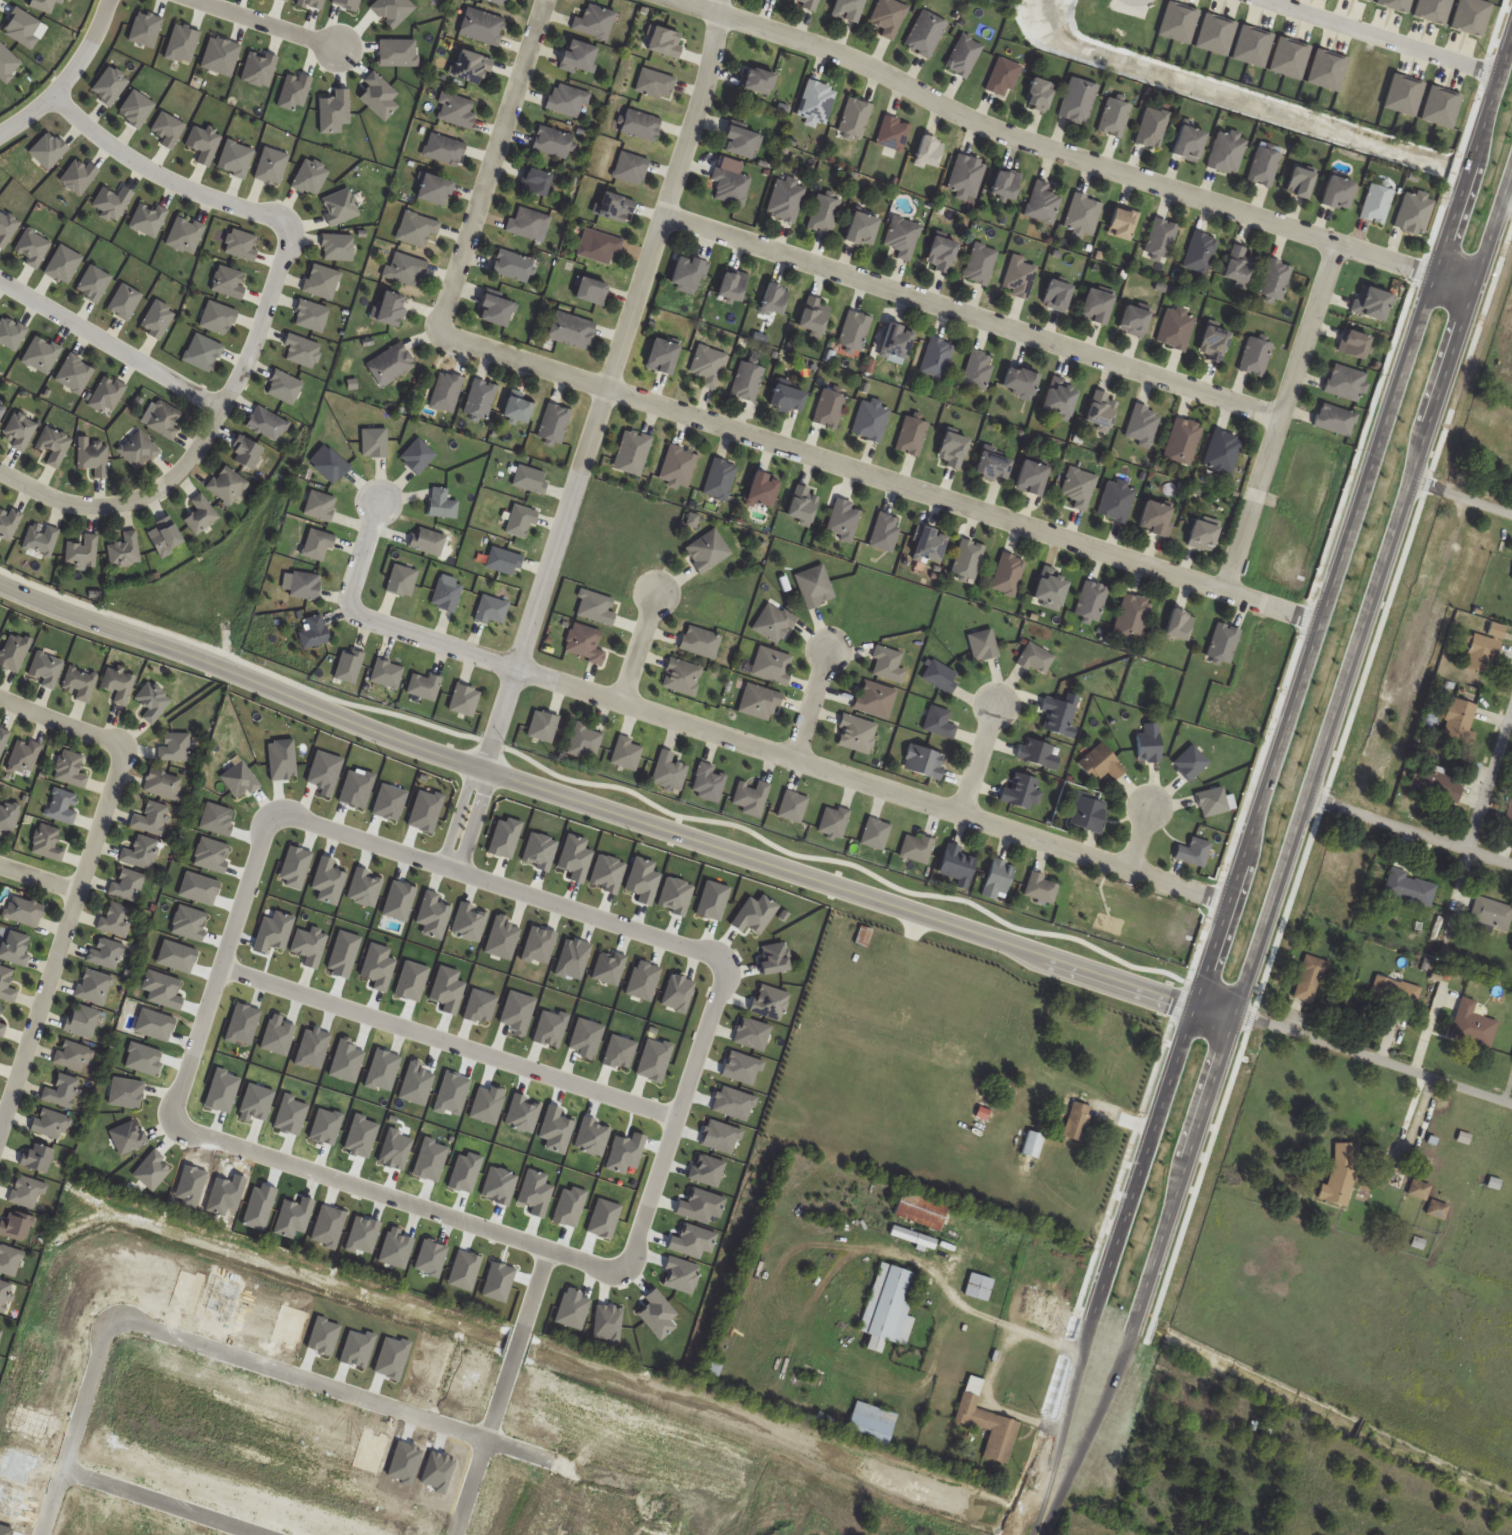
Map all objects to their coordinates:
building: (496, 1)
building: (806, 3)
building: (846, 9)
building: (889, 17)
building: (595, 22)
road: (265, 24)
building: (482, 26)
building: (926, 33)
road: (1379, 36)
building: (664, 42)
building: (577, 56)
building: (963, 56)
building: (470, 66)
building: (1003, 78)
road: (68, 79)
building: (758, 81)
building: (656, 84)
building: (1037, 94)
building: (568, 100)
building: (1078, 101)
building: (817, 103)
building: (456, 111)
building: (1114, 117)
building: (856, 118)
building: (641, 125)
building: (1151, 127)
building: (894, 133)
building: (553, 142)
building: (739, 142)
building: (1187, 143)
road: (1051, 148)
building: (444, 150)
building: (928, 152)
building: (1227, 153)
road: (492, 165)
building: (1263, 167)
building: (631, 168)
building: (967, 176)
building: (535, 182)
building: (1005, 183)
building: (1298, 183)
building: (731, 186)
building: (433, 190)
building: (1335, 193)
building: (786, 200)
building: (1042, 203)
building: (1376, 204)
building: (615, 207)
building: (1414, 213)
building: (824, 214)
building: (1083, 215)
building: (1121, 224)
building: (530, 225)
building: (417, 229)
building: (861, 229)
building: (903, 238)
building: (1161, 239)
building: (601, 247)
building: (1200, 253)
building: (941, 254)
building: (981, 264)
building: (513, 266)
building: (1237, 266)
building: (406, 270)
building: (687, 274)
building: (1019, 276)
building: (1275, 280)
road: (1454, 280)
building: (731, 285)
building: (591, 291)
building: (1055, 295)
building: (774, 299)
building: (1370, 303)
building: (1094, 306)
building: (389, 308)
building: (494, 310)
building: (813, 315)
road: (974, 315)
road: (263, 319)
building: (1132, 321)
building: (1176, 329)
building: (573, 330)
building: (855, 330)
road: (111, 339)
building: (894, 342)
building: (1212, 344)
building: (1353, 344)
building: (661, 356)
building: (1256, 357)
building: (936, 358)
building: (391, 364)
building: (709, 365)
building: (978, 370)
building: (748, 381)
building: (1346, 382)
building: (1018, 383)
road: (609, 387)
building: (447, 392)
building: (1059, 398)
building: (481, 399)
building: (786, 399)
building: (830, 409)
building: (517, 410)
building: (1101, 411)
building: (2, 413)
road: (1283, 417)
building: (1510, 418)
building: (165, 420)
building: (872, 420)
building: (1335, 420)
building: (556, 423)
building: (266, 424)
building: (1142, 425)
building: (20, 431)
building: (912, 436)
building: (1474, 436)
building: (1183, 441)
building: (54, 447)
building: (951, 449)
building: (139, 450)
building: (1223, 451)
building: (633, 452)
building: (245, 453)
building: (94, 457)
building: (679, 466)
building: (990, 466)
road: (876, 476)
building: (721, 479)
building: (1032, 479)
building: (227, 485)
building: (1079, 488)
building: (761, 490)
road: (1462, 499)
building: (1117, 501)
building: (442, 504)
building: (802, 505)
building: (321, 506)
building: (200, 515)
road: (1350, 516)
building: (1154, 518)
building: (843, 520)
building: (9, 523)
building: (886, 532)
building: (1201, 536)
building: (163, 538)
building: (41, 539)
building: (1436, 541)
building: (428, 542)
building: (318, 544)
building: (928, 545)
building: (125, 550)
building: (708, 550)
building: (83, 552)
road: (364, 554)
building: (968, 559)
building: (1008, 574)
building: (305, 586)
building: (815, 586)
building: (1433, 587)
building: (1050, 590)
road: (1375, 595)
building: (1092, 602)
building: (1132, 617)
building: (774, 623)
building: (1179, 625)
building: (701, 642)
building: (585, 644)
building: (1223, 644)
building: (984, 645)
road: (641, 648)
building: (1484, 649)
building: (14, 652)
building: (1036, 659)
building: (773, 665)
building: (889, 665)
building: (45, 669)
building: (941, 676)
road: (241, 677)
building: (683, 677)
building: (81, 683)
building: (119, 684)
building: (425, 687)
building: (876, 699)
building: (153, 702)
building: (760, 702)
road: (813, 704)
building: (1059, 717)
building: (1459, 719)
building: (940, 723)
building: (857, 734)
building: (584, 742)
building: (1149, 744)
building: (2, 746)
building: (175, 747)
building: (1368, 752)
building: (626, 753)
building: (1039, 754)
building: (24, 756)
road: (787, 756)
road: (980, 759)
building: (925, 763)
building: (1190, 763)
building: (1101, 764)
building: (72, 769)
building: (669, 772)
building: (709, 783)
road: (1490, 783)
building: (163, 784)
building: (1436, 785)
building: (1023, 792)
building: (752, 798)
building: (1212, 802)
building: (64, 806)
building: (793, 807)
building: (1509, 811)
building: (1089, 814)
building: (8, 818)
building: (151, 818)
road: (466, 820)
building: (834, 821)
road: (1410, 829)
building: (876, 834)
road: (1141, 838)
building: (49, 843)
building: (917, 848)
building: (140, 852)
building: (1193, 852)
building: (1333, 864)
building: (956, 865)
road: (85, 874)
road: (40, 877)
building: (997, 879)
building: (128, 884)
road: (500, 886)
building: (1041, 888)
building: (1411, 888)
road: (838, 889)
building: (25, 911)
building: (1492, 913)
building: (117, 918)
building: (16, 947)
building: (106, 953)
road: (220, 966)
building: (1311, 979)
building: (7, 985)
building: (95, 986)
building: (1403, 992)
building: (0, 1008)
road: (1215, 1010)
building: (1110, 1019)
building: (83, 1021)
building: (1473, 1025)
building: (3, 1029)
road: (448, 1042)
building: (73, 1055)
road: (1374, 1057)
building: (62, 1090)
road: (677, 1114)
building: (1077, 1122)
building: (50, 1123)
road: (1144, 1154)
building: (37, 1158)
building: (1341, 1174)
building: (1420, 1190)
building: (27, 1192)
road: (400, 1200)
building: (920, 1209)
building: (1437, 1210)
road: (1168, 1222)
building: (16, 1226)
building: (913, 1238)
building: (979, 1287)
building: (4, 1296)
building: (890, 1307)
road: (973, 1312)
building: (1, 1328)
road: (1004, 1345)
building: (711, 1369)
road: (502, 1392)
road: (1069, 1399)
road: (414, 1414)
building: (987, 1422)
building: (871, 1424)
road: (75, 1427)
road: (1072, 1464)
building: (1105, 1496)
road: (161, 1502)
road: (1045, 1517)

